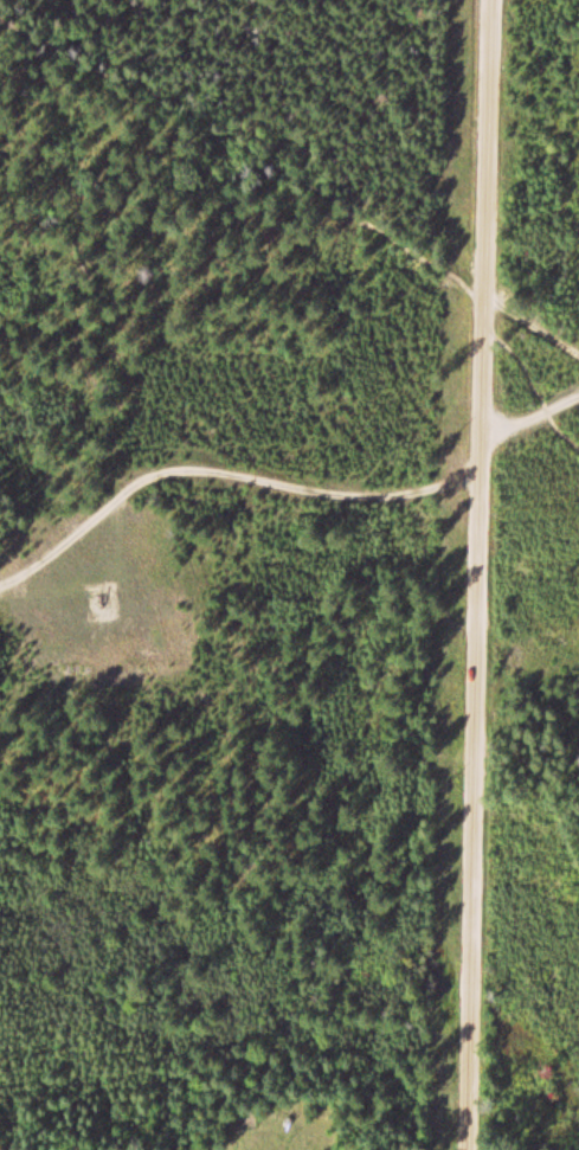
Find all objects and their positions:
road: (294, 174)
road: (562, 432)
road: (285, 476)
road: (483, 574)
petroleum well: (101, 589)

